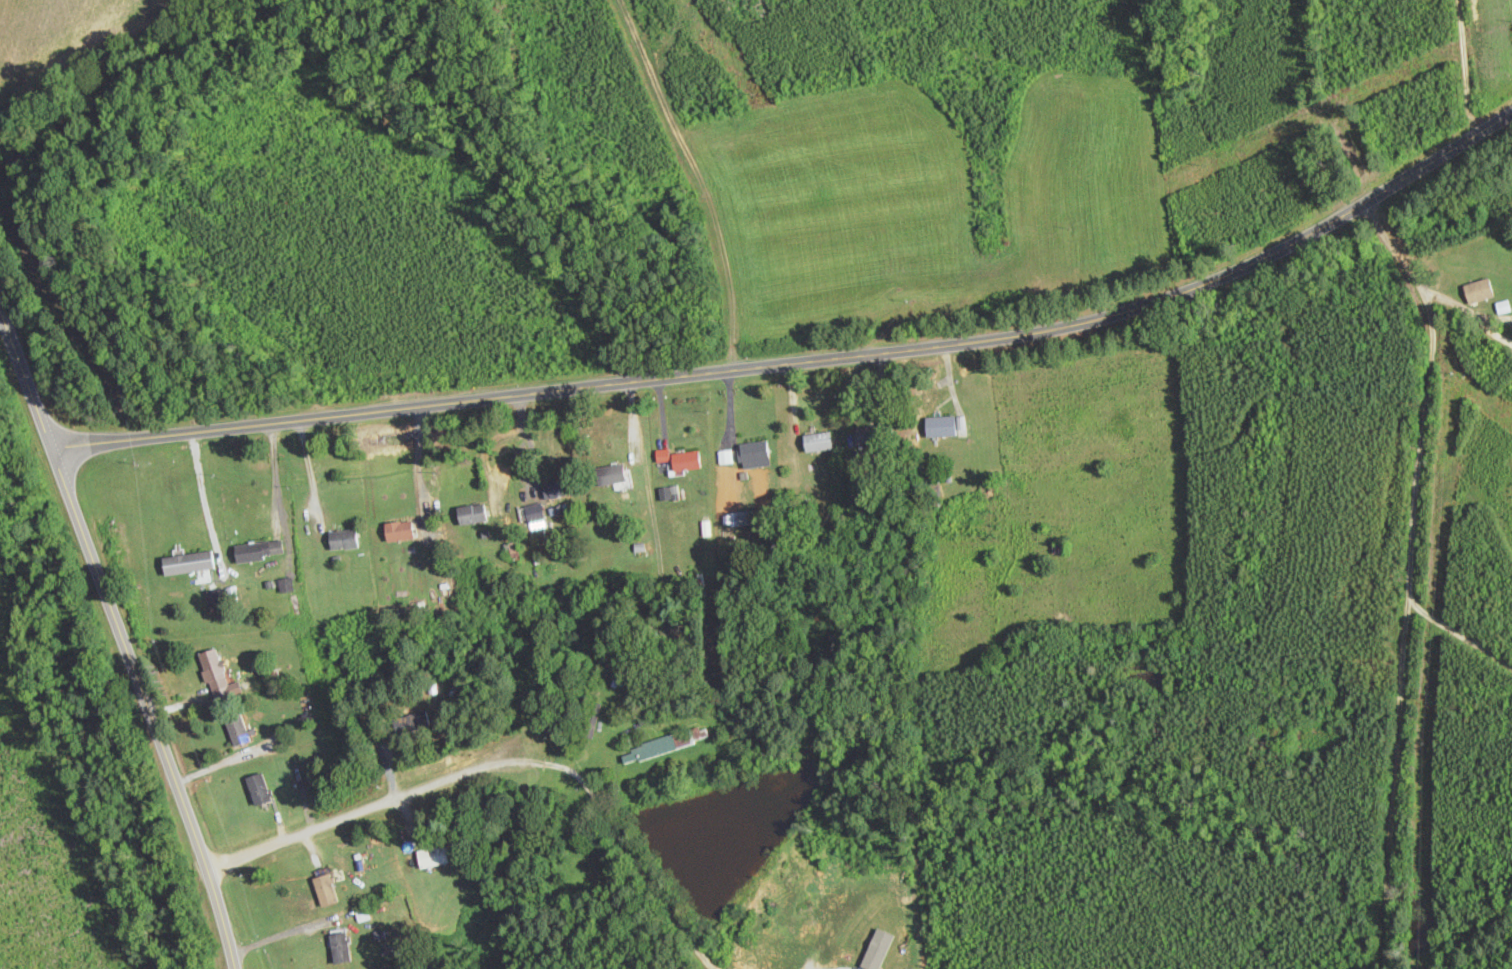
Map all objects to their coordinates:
road: (1461, 69)
road: (688, 179)
building: (1478, 290)
road: (806, 362)
road: (26, 377)
building: (946, 426)
building: (873, 433)
building: (818, 442)
building: (754, 455)
building: (686, 461)
road: (418, 468)
road: (311, 472)
building: (613, 475)
road: (276, 478)
building: (562, 487)
building: (472, 514)
building: (535, 514)
building: (399, 531)
building: (343, 540)
building: (259, 551)
building: (188, 563)
building: (285, 585)
building: (217, 597)
building: (217, 677)
road: (147, 707)
building: (411, 722)
building: (237, 729)
road: (509, 745)
building: (663, 745)
building: (259, 789)
building: (434, 856)
building: (328, 886)
building: (339, 947)

